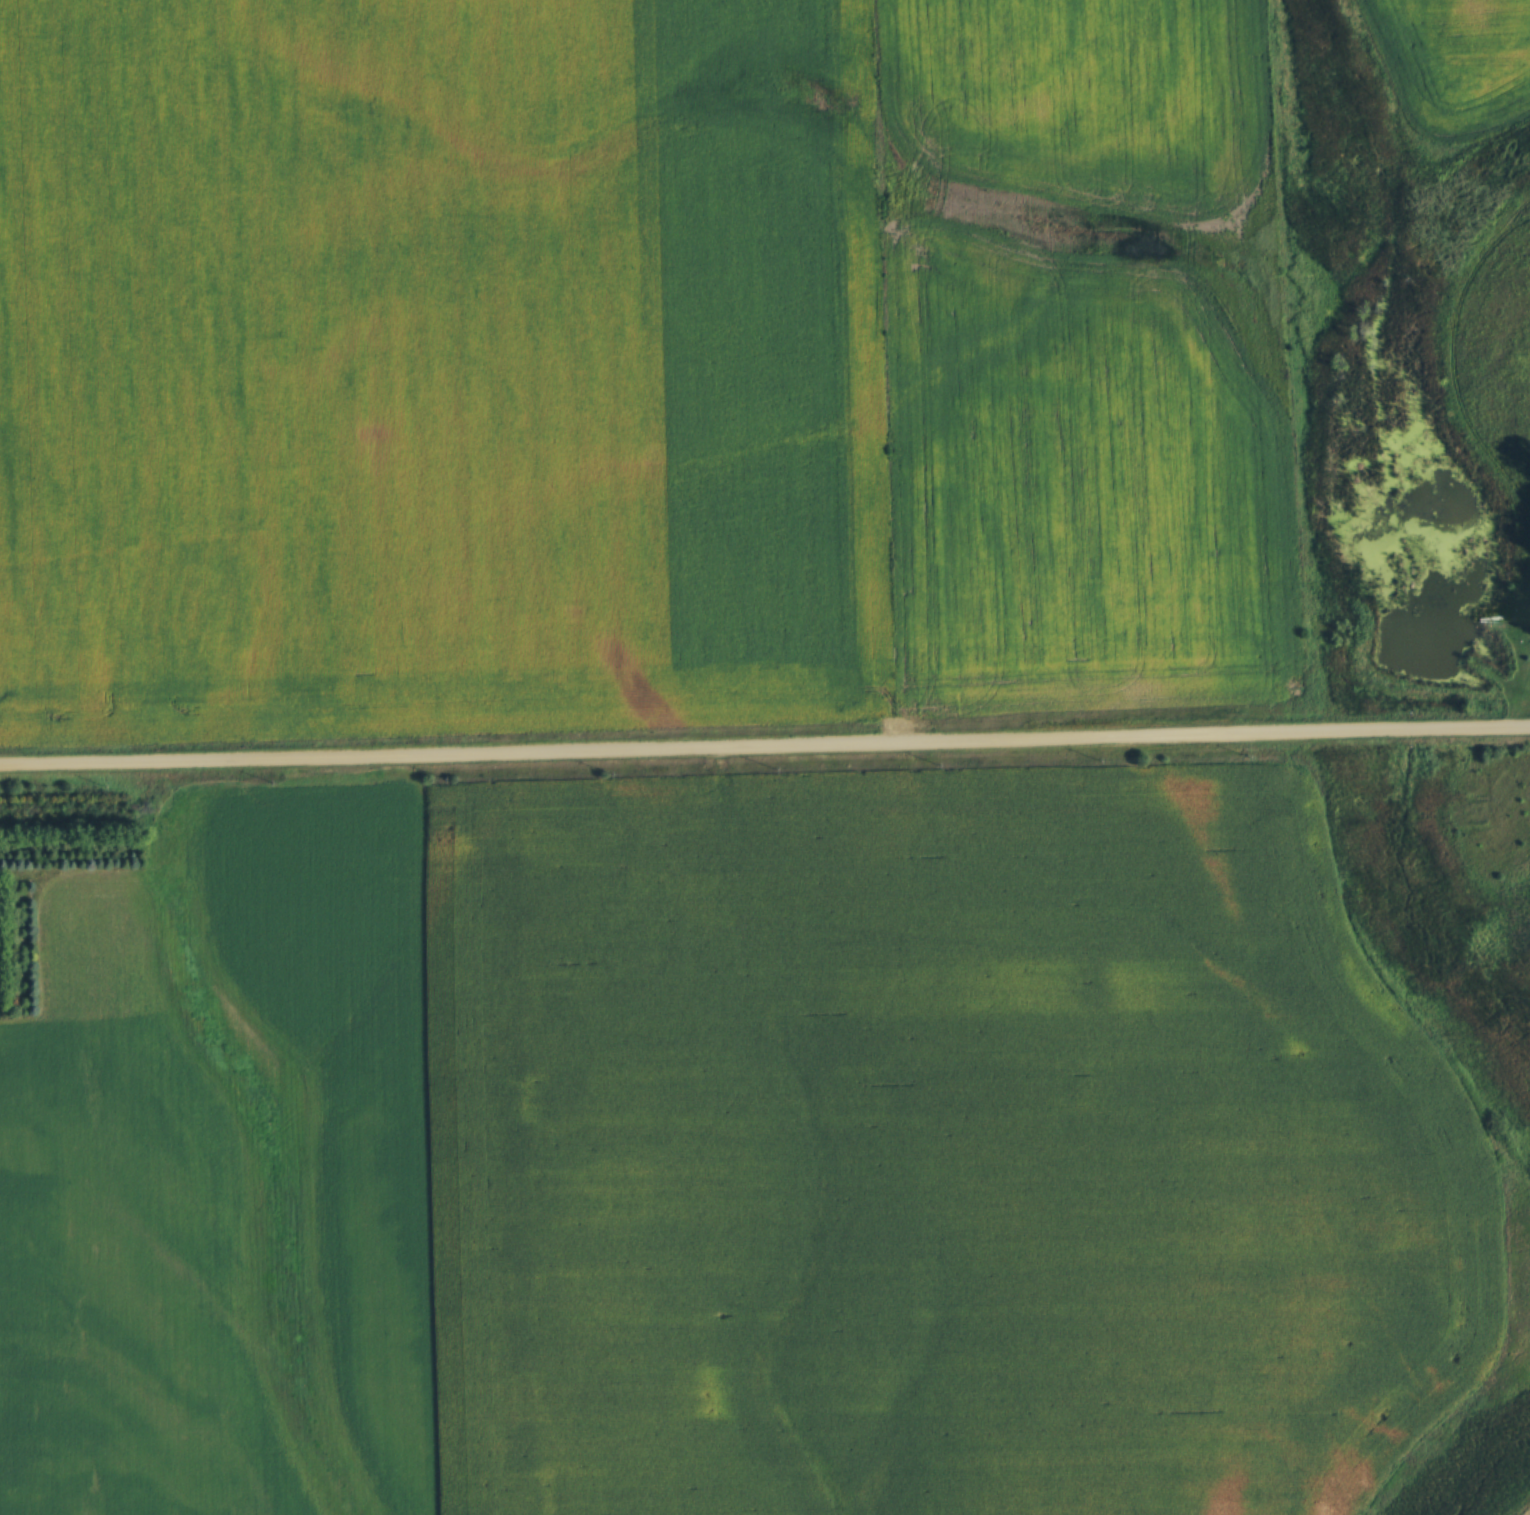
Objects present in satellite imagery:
road: (764, 740)

